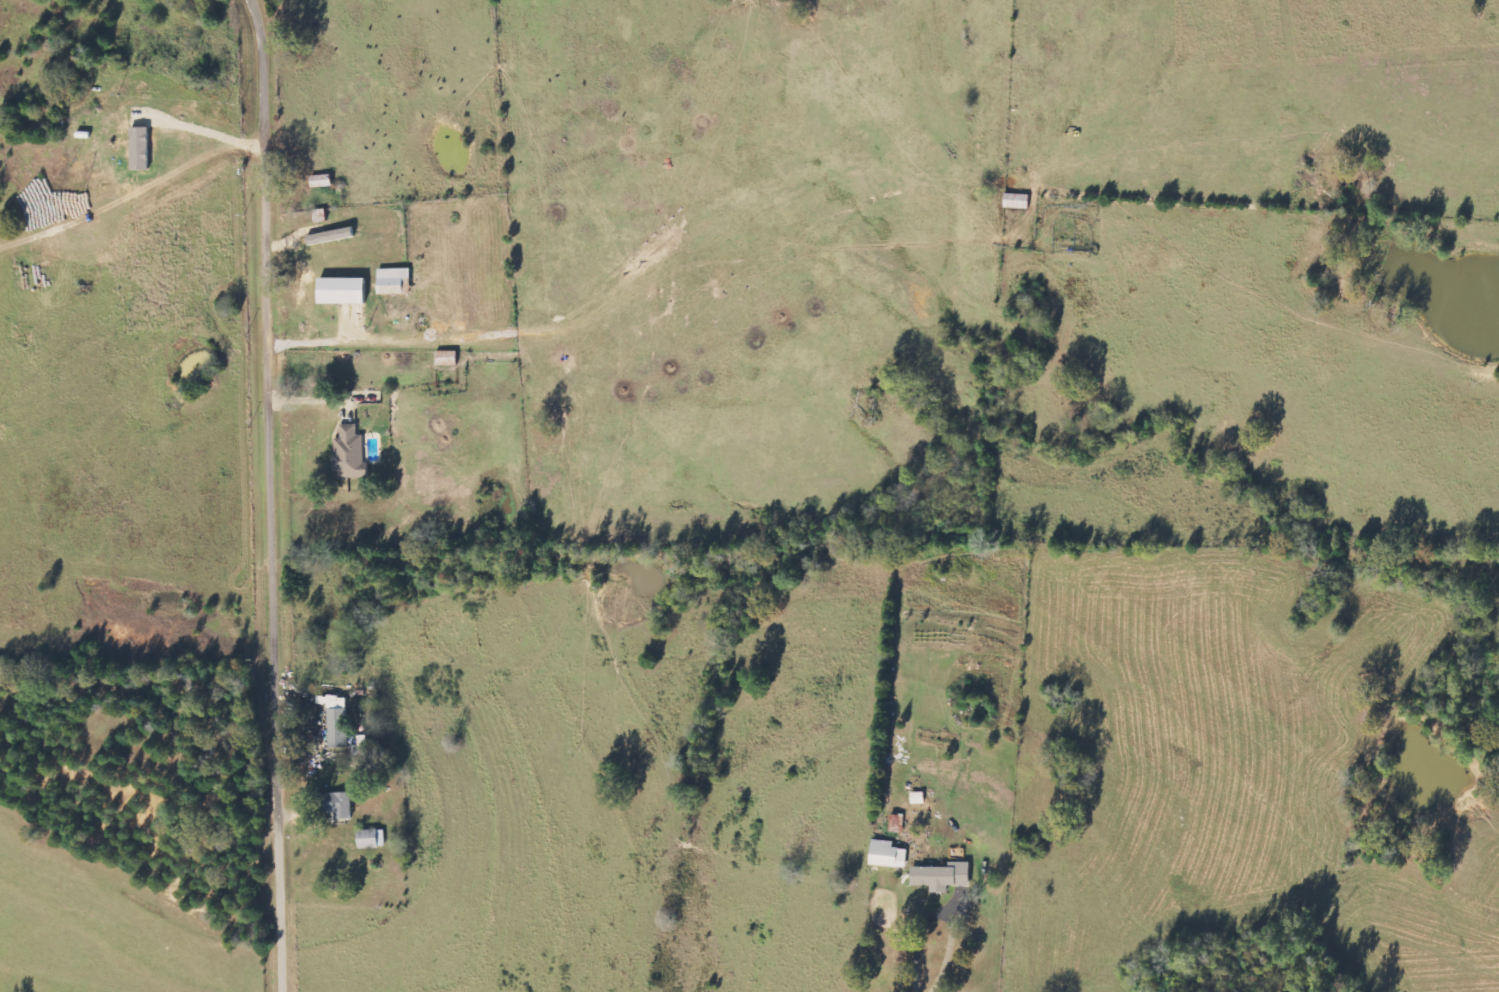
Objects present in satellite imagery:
building: (142, 148)
building: (394, 281)
building: (345, 290)
building: (350, 453)
road: (280, 495)
building: (338, 719)
building: (340, 805)
building: (897, 823)
building: (373, 839)
building: (889, 855)
building: (944, 877)

